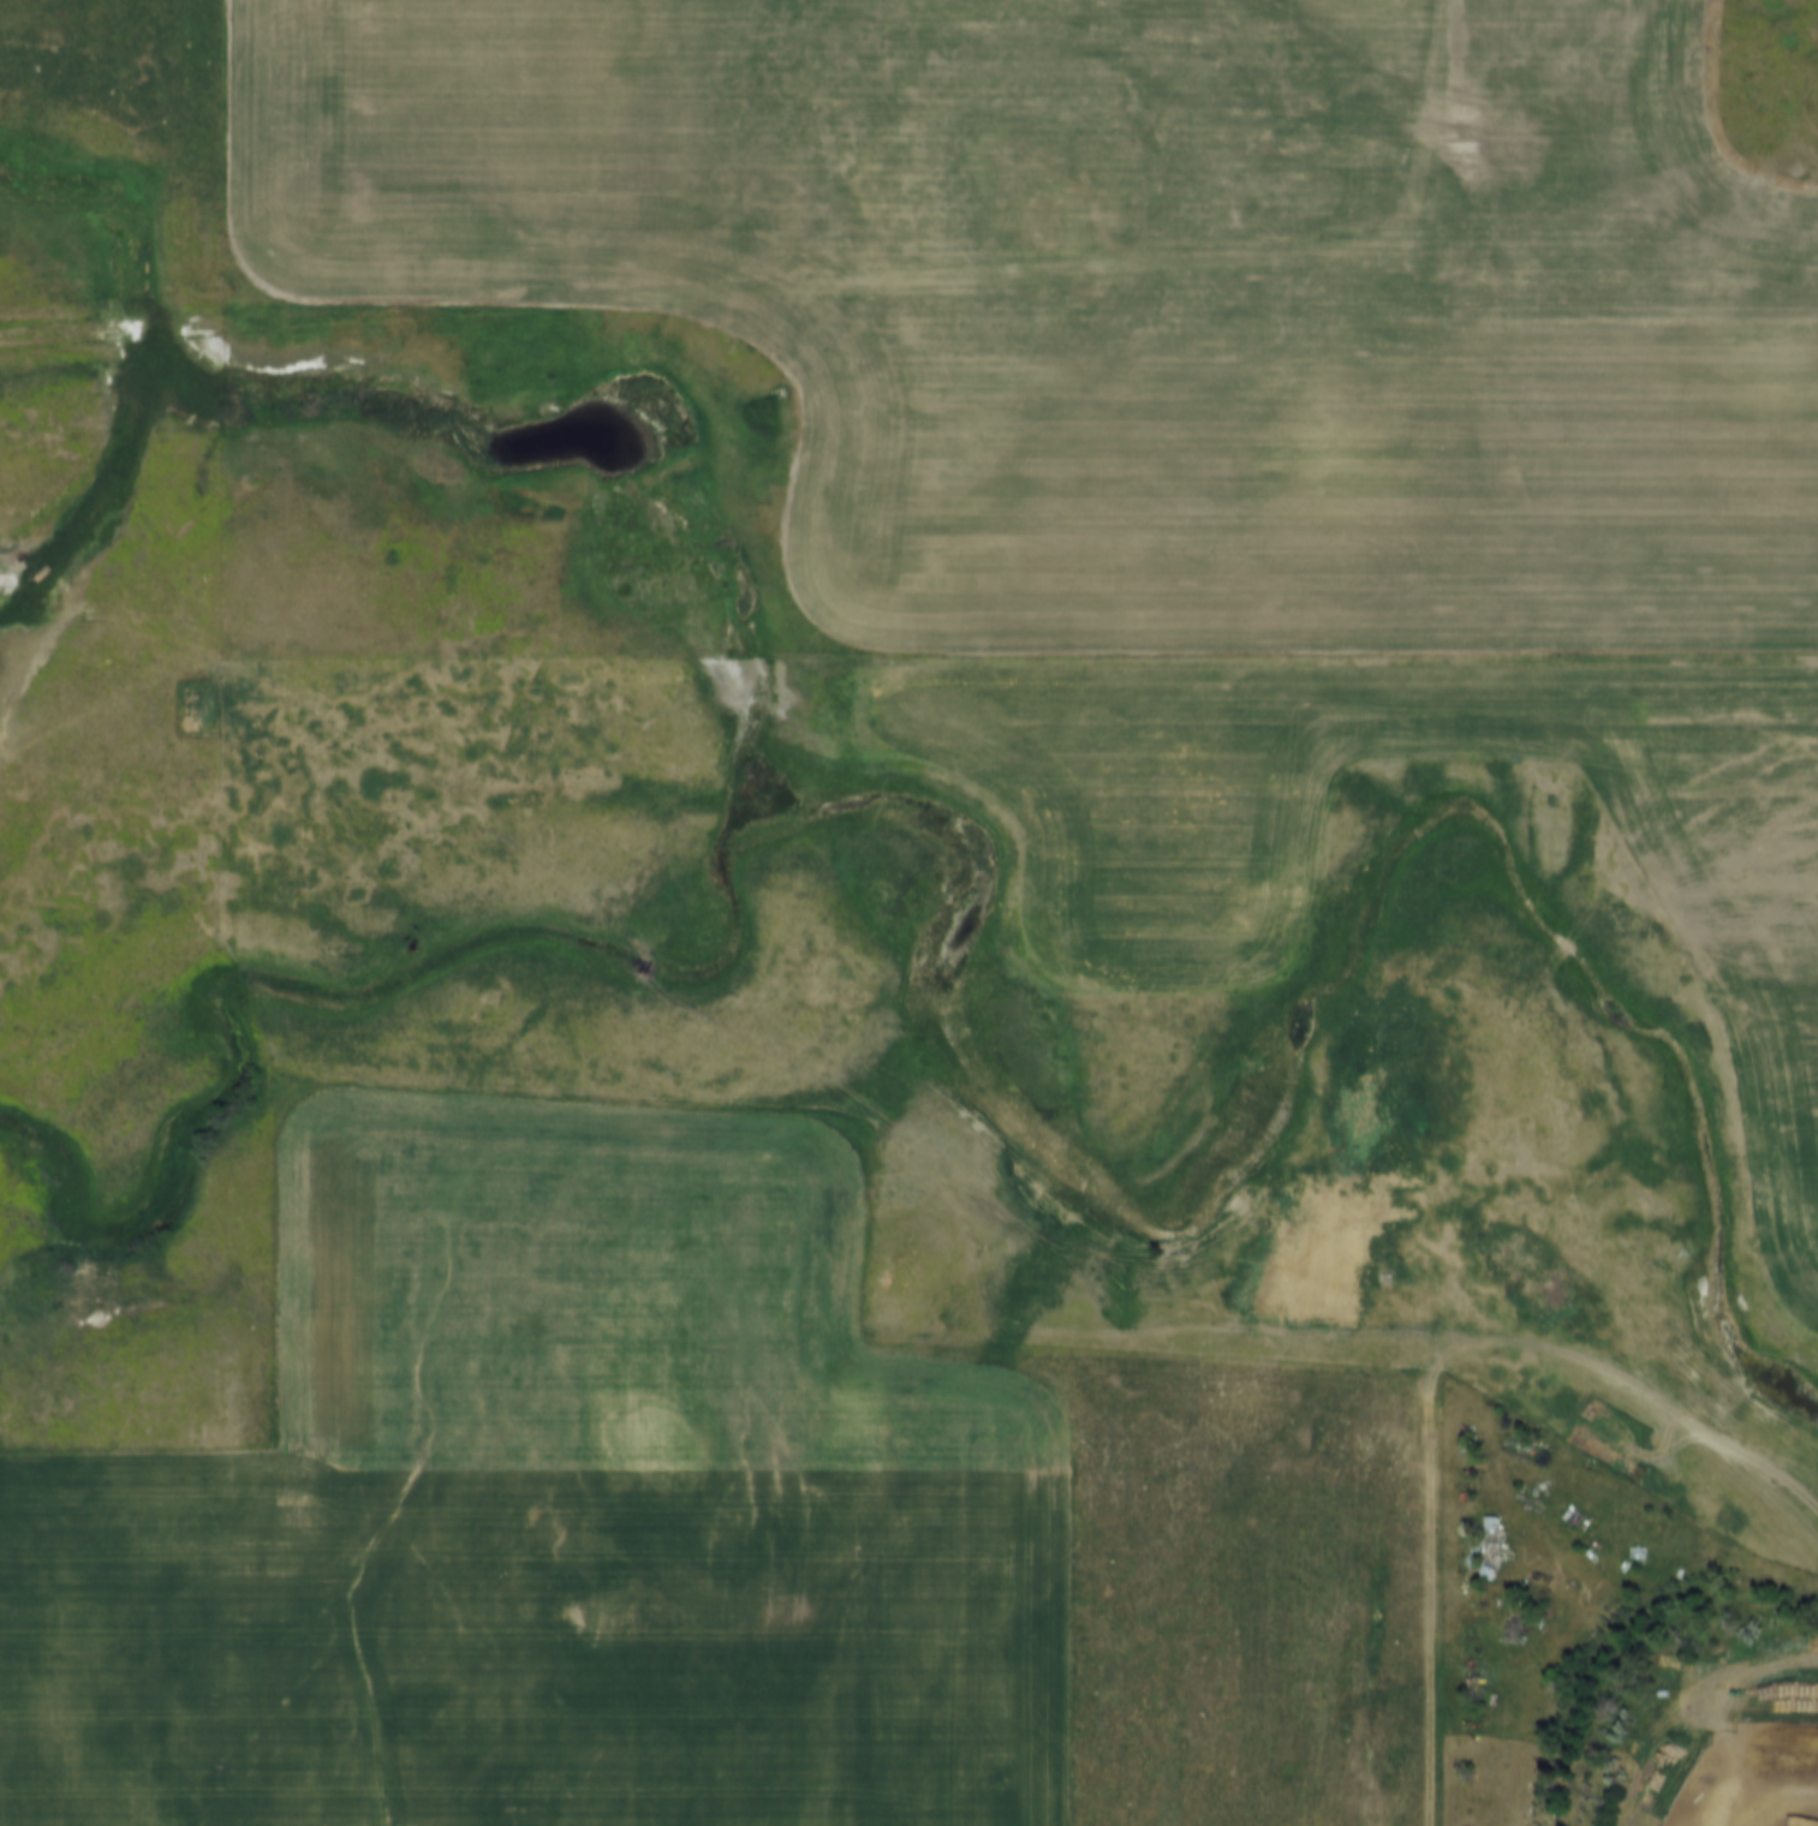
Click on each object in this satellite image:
road: (818, 280)
building: (1591, 1302)
building: (1489, 1548)

